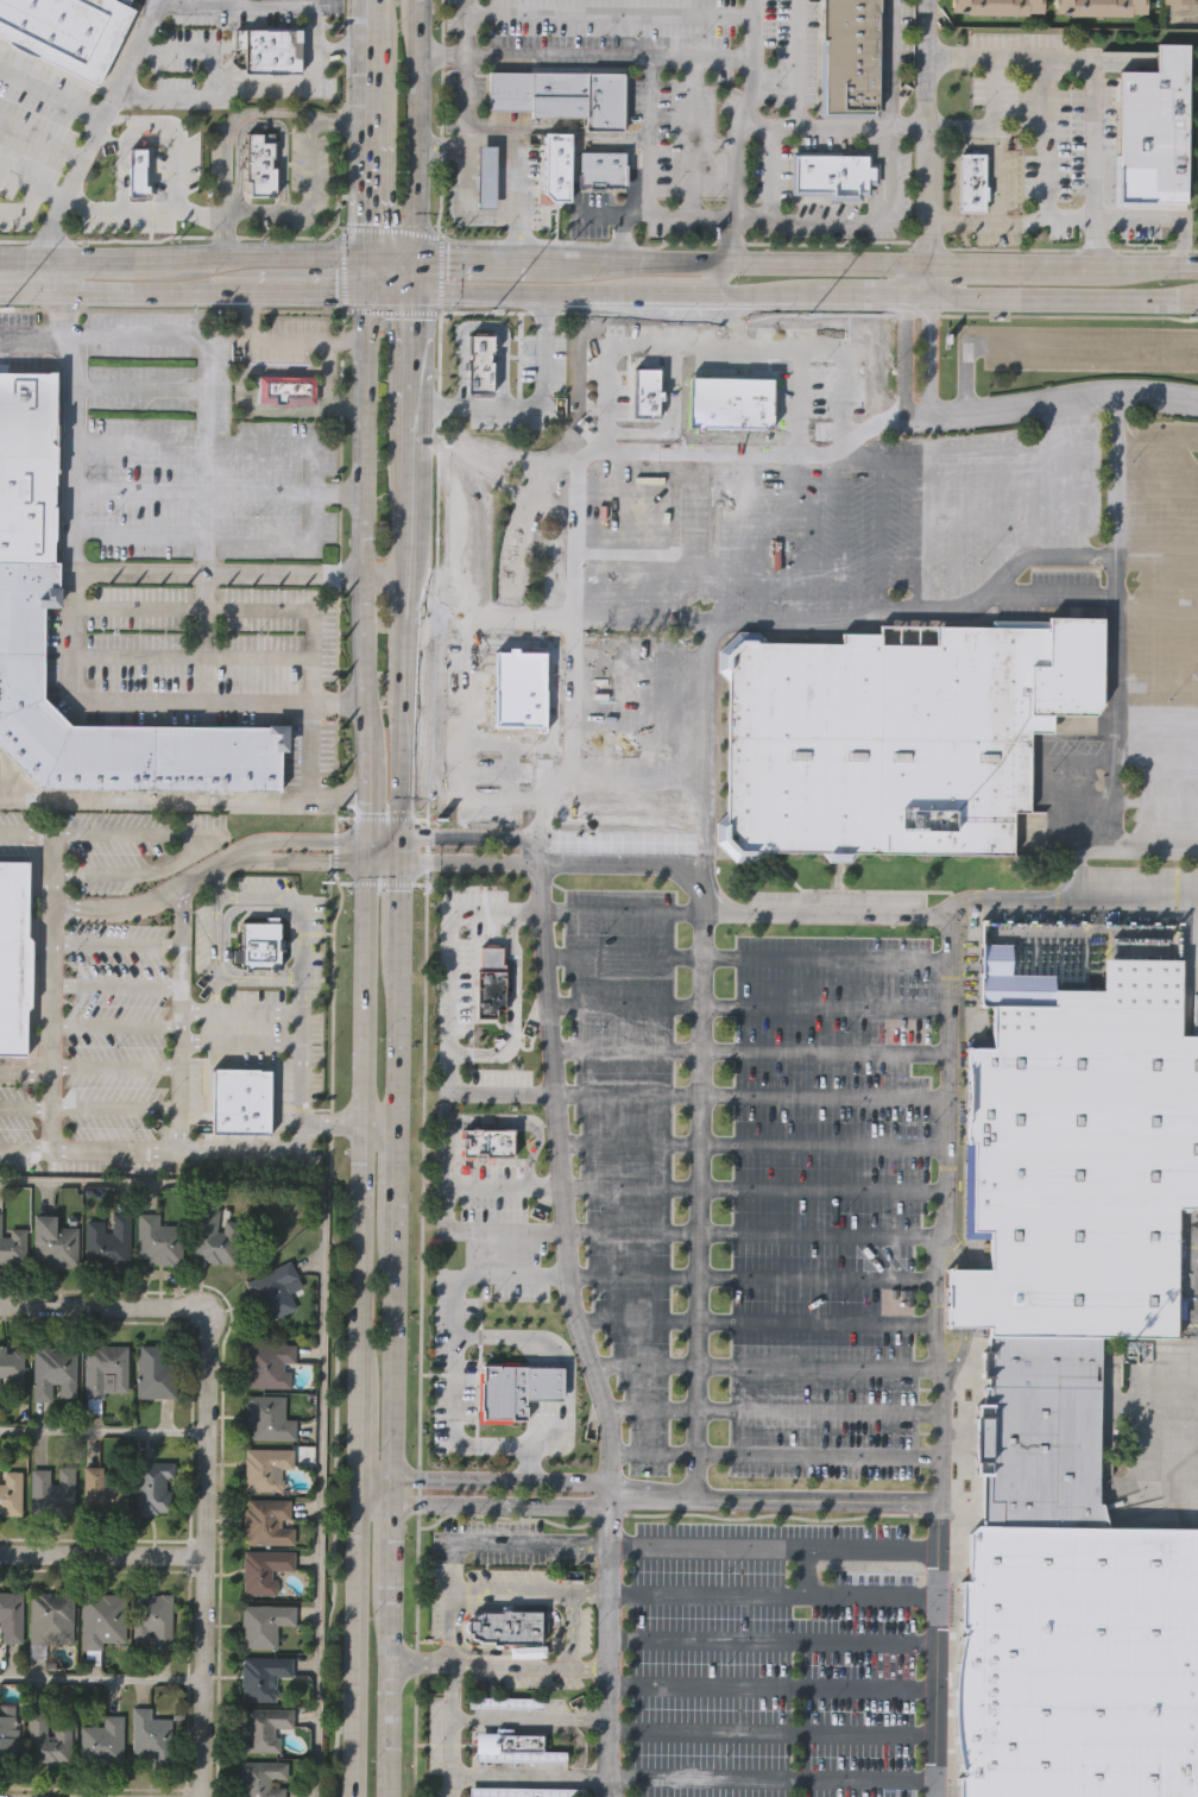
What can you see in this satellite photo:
building: (1179, 4)
building: (995, 7)
building: (1098, 7)
road: (610, 13)
road: (283, 14)
road: (418, 15)
road: (464, 26)
building: (67, 31)
road: (135, 44)
building: (270, 50)
road: (220, 52)
road: (585, 55)
building: (849, 56)
road: (890, 63)
road: (1090, 86)
road: (232, 90)
road: (51, 93)
building: (562, 96)
road: (341, 115)
road: (441, 119)
building: (1150, 120)
road: (990, 124)
road: (797, 126)
road: (765, 127)
road: (377, 128)
road: (736, 131)
road: (926, 132)
road: (42, 141)
road: (416, 145)
road: (515, 152)
road: (1042, 160)
building: (555, 166)
building: (258, 168)
building: (605, 169)
building: (134, 171)
road: (78, 172)
building: (834, 172)
road: (768, 174)
road: (652, 176)
road: (34, 177)
building: (486, 177)
gas station: (486, 177)
building: (972, 182)
road: (254, 209)
road: (871, 220)
road: (27, 228)
road: (392, 229)
road: (225, 233)
road: (170, 237)
road: (819, 241)
road: (21, 257)
road: (90, 257)
road: (256, 257)
traffic signals: (373, 257)
road: (393, 259)
traffic signals: (415, 261)
road: (493, 261)
road: (746, 264)
road: (998, 265)
road: (1136, 266)
road: (343, 269)
road: (440, 273)
road: (44, 275)
road: (372, 275)
road: (415, 277)
road: (914, 278)
road: (927, 278)
road: (681, 280)
road: (21, 292)
road: (146, 292)
road: (856, 292)
road: (332, 294)
traffic signals: (372, 294)
traffic signals: (415, 294)
road: (598, 294)
road: (1065, 294)
road: (171, 309)
road: (392, 310)
road: (818, 314)
road: (733, 319)
road: (33, 336)
road: (68, 338)
road: (135, 338)
road: (310, 340)
road: (702, 345)
road: (1042, 345)
road: (904, 355)
road: (931, 357)
building: (507, 360)
road: (202, 365)
building: (477, 365)
road: (412, 379)
road: (137, 385)
building: (286, 390)
road: (371, 390)
building: (649, 393)
building: (733, 402)
road: (1051, 402)
road: (528, 404)
building: (483, 418)
road: (137, 444)
building: (27, 466)
road: (71, 480)
road: (1115, 480)
road: (241, 485)
road: (137, 491)
road: (573, 494)
road: (411, 519)
road: (370, 530)
road: (137, 535)
road: (220, 572)
road: (390, 573)
parking lot: (794, 579)
road: (411, 600)
road: (965, 606)
road: (235, 610)
road: (492, 616)
road: (639, 619)
parking lot: (1160, 623)
road: (203, 636)
building: (21, 651)
road: (367, 655)
road: (411, 655)
building: (519, 691)
road: (156, 699)
road: (409, 700)
building: (901, 734)
road: (465, 746)
road: (311, 748)
road: (404, 778)
road: (12, 782)
road: (365, 787)
road: (182, 794)
road: (204, 833)
road: (309, 837)
traffic signals: (364, 837)
road: (382, 837)
traffic signals: (401, 837)
road: (468, 837)
road: (364, 850)
road: (399, 850)
road: (309, 860)
road: (468, 862)
traffic signals: (364, 863)
road: (382, 863)
traffic signals: (399, 863)
road: (215, 883)
road: (256, 895)
road: (156, 898)
road: (616, 913)
road: (859, 914)
road: (399, 915)
road: (299, 934)
road: (209, 935)
building: (261, 944)
road: (112, 945)
building: (14, 958)
road: (449, 959)
road: (743, 959)
road: (181, 964)
road: (43, 969)
road: (259, 978)
building: (492, 982)
road: (113, 986)
road: (744, 1008)
road: (513, 1009)
road: (219, 1011)
road: (278, 1013)
road: (114, 1026)
road: (221, 1027)
road: (302, 1027)
road: (398, 1045)
road: (423, 1054)
road: (746, 1054)
road: (114, 1068)
road: (184, 1068)
road: (23, 1070)
road: (497, 1093)
road: (746, 1096)
building: (241, 1102)
road: (21, 1106)
road: (114, 1109)
road: (360, 1117)
road: (349, 1120)
road: (523, 1122)
building: (487, 1143)
road: (749, 1147)
road: (23, 1148)
road: (252, 1149)
road: (446, 1161)
building: (1082, 1162)
road: (692, 1180)
parking lot: (752, 1184)
road: (500, 1186)
road: (397, 1191)
road: (749, 1191)
road: (502, 1230)
road: (748, 1234)
building: (215, 1237)
building: (108, 1241)
building: (157, 1241)
building: (53, 1243)
building: (12, 1246)
road: (748, 1279)
building: (273, 1290)
road: (100, 1310)
road: (750, 1324)
road: (572, 1330)
road: (313, 1335)
road: (935, 1355)
road: (537, 1358)
road: (454, 1361)
building: (11, 1364)
building: (269, 1366)
road: (762, 1368)
road: (396, 1369)
building: (106, 1372)
building: (53, 1374)
building: (155, 1374)
road: (436, 1376)
building: (516, 1387)
building: (0, 1395)
road: (771, 1413)
building: (267, 1419)
road: (99, 1430)
road: (357, 1432)
building: (1039, 1432)
road: (775, 1458)
building: (265, 1467)
road: (461, 1478)
road: (568, 1480)
road: (376, 1484)
building: (152, 1487)
building: (94, 1488)
building: (52, 1490)
building: (11, 1492)
road: (774, 1500)
road: (481, 1507)
building: (269, 1521)
road: (775, 1551)
road: (99, 1553)
road: (198, 1556)
building: (264, 1570)
road: (444, 1590)
road: (527, 1590)
road: (774, 1599)
building: (11, 1616)
building: (51, 1619)
building: (101, 1619)
building: (152, 1621)
building: (264, 1625)
building: (505, 1626)
road: (569, 1629)
road: (393, 1637)
road: (354, 1644)
road: (773, 1644)
parking lot: (773, 1652)
building: (1078, 1660)
road: (480, 1664)
road: (587, 1669)
building: (263, 1676)
road: (99, 1681)
road: (771, 1691)
building: (504, 1703)
road: (523, 1721)
building: (263, 1727)
building: (7, 1735)
road: (770, 1735)
building: (150, 1736)
building: (48, 1739)
building: (102, 1740)
building: (507, 1742)
building: (519, 1757)
building: (263, 1778)
road: (523, 1778)
road: (770, 1780)
building: (524, 1791)

